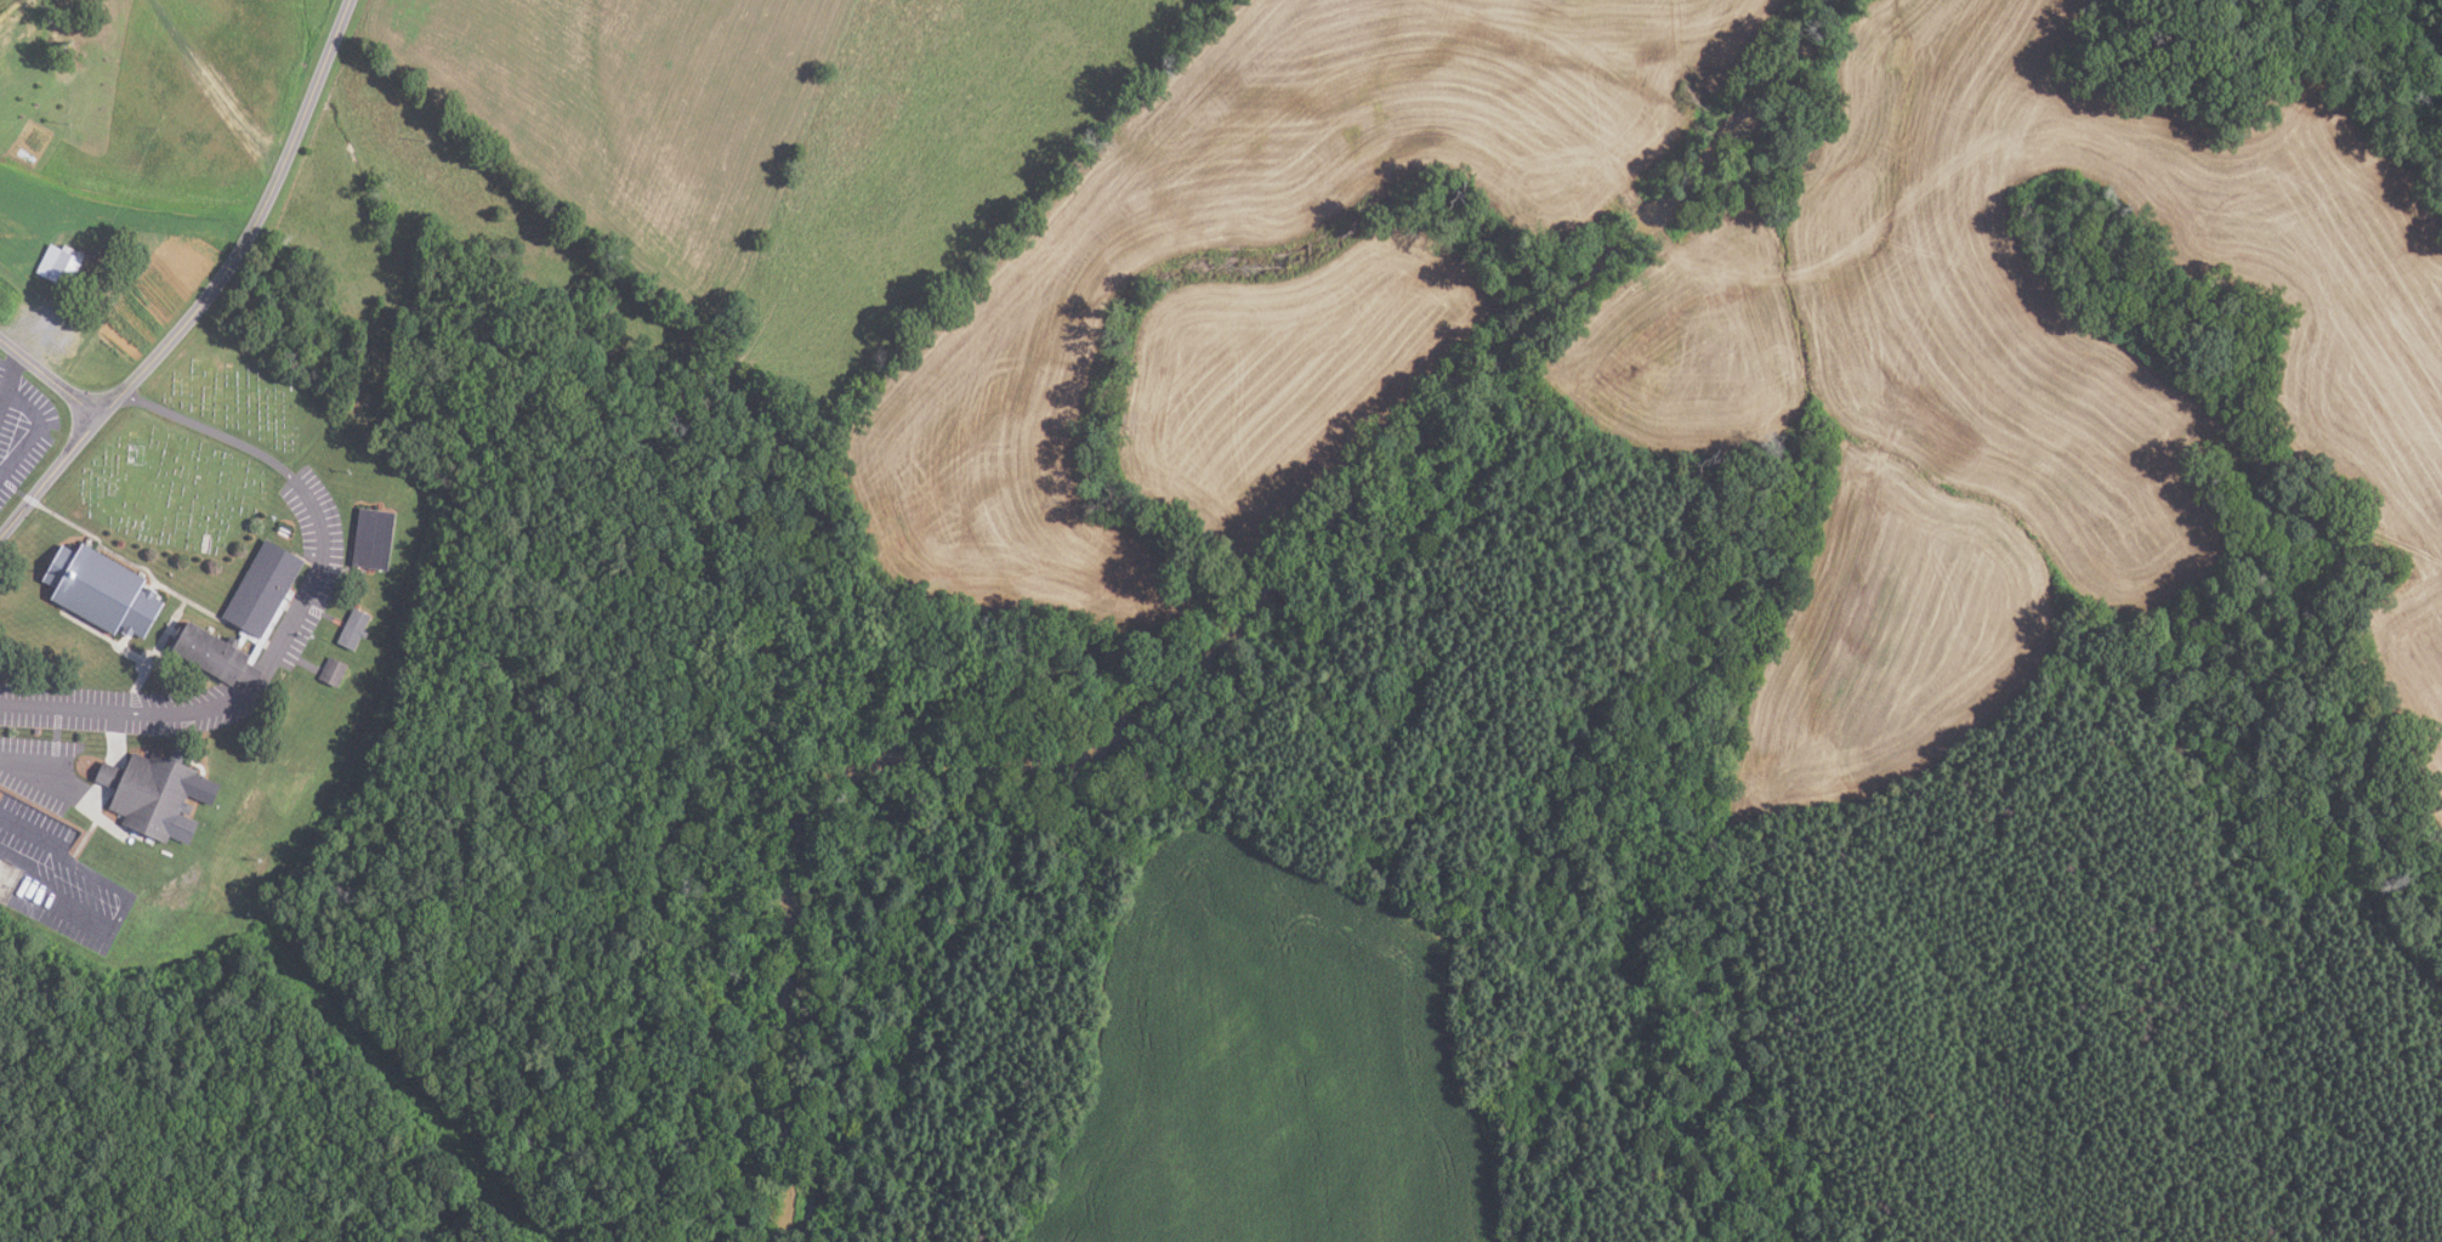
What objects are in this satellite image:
crop: (112, 248)
building: (61, 265)
crop: (1270, 287)
road: (211, 291)
crop: (2021, 373)
road: (51, 378)
road: (10, 381)
parking lot: (21, 430)
park: (199, 447)
building: (374, 538)
building: (103, 588)
building: (265, 588)
road: (295, 617)
building: (356, 626)
parking lot: (294, 629)
building: (212, 650)
building: (335, 671)
road: (36, 779)
building: (155, 792)
road: (24, 828)
parking lot: (51, 846)
crop: (1265, 1065)

